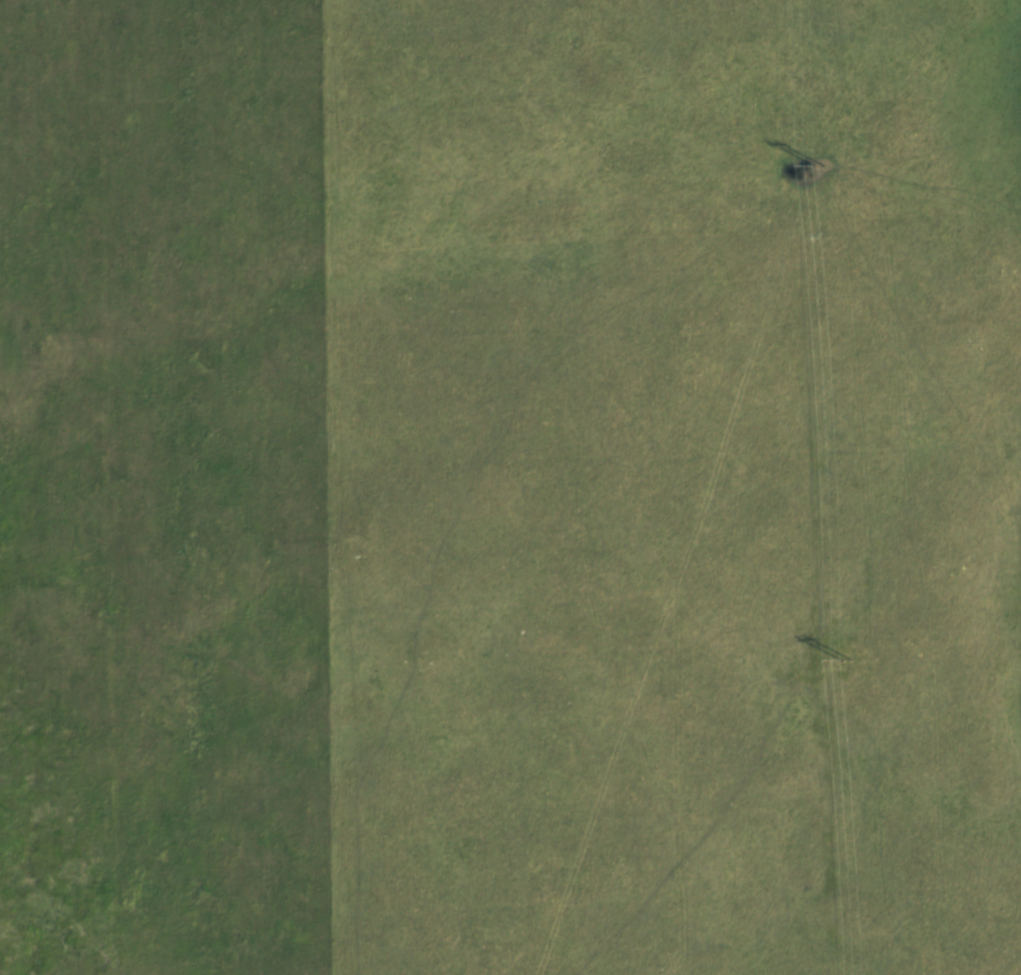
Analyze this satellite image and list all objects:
power tower: (815, 164)
power tower: (842, 662)

